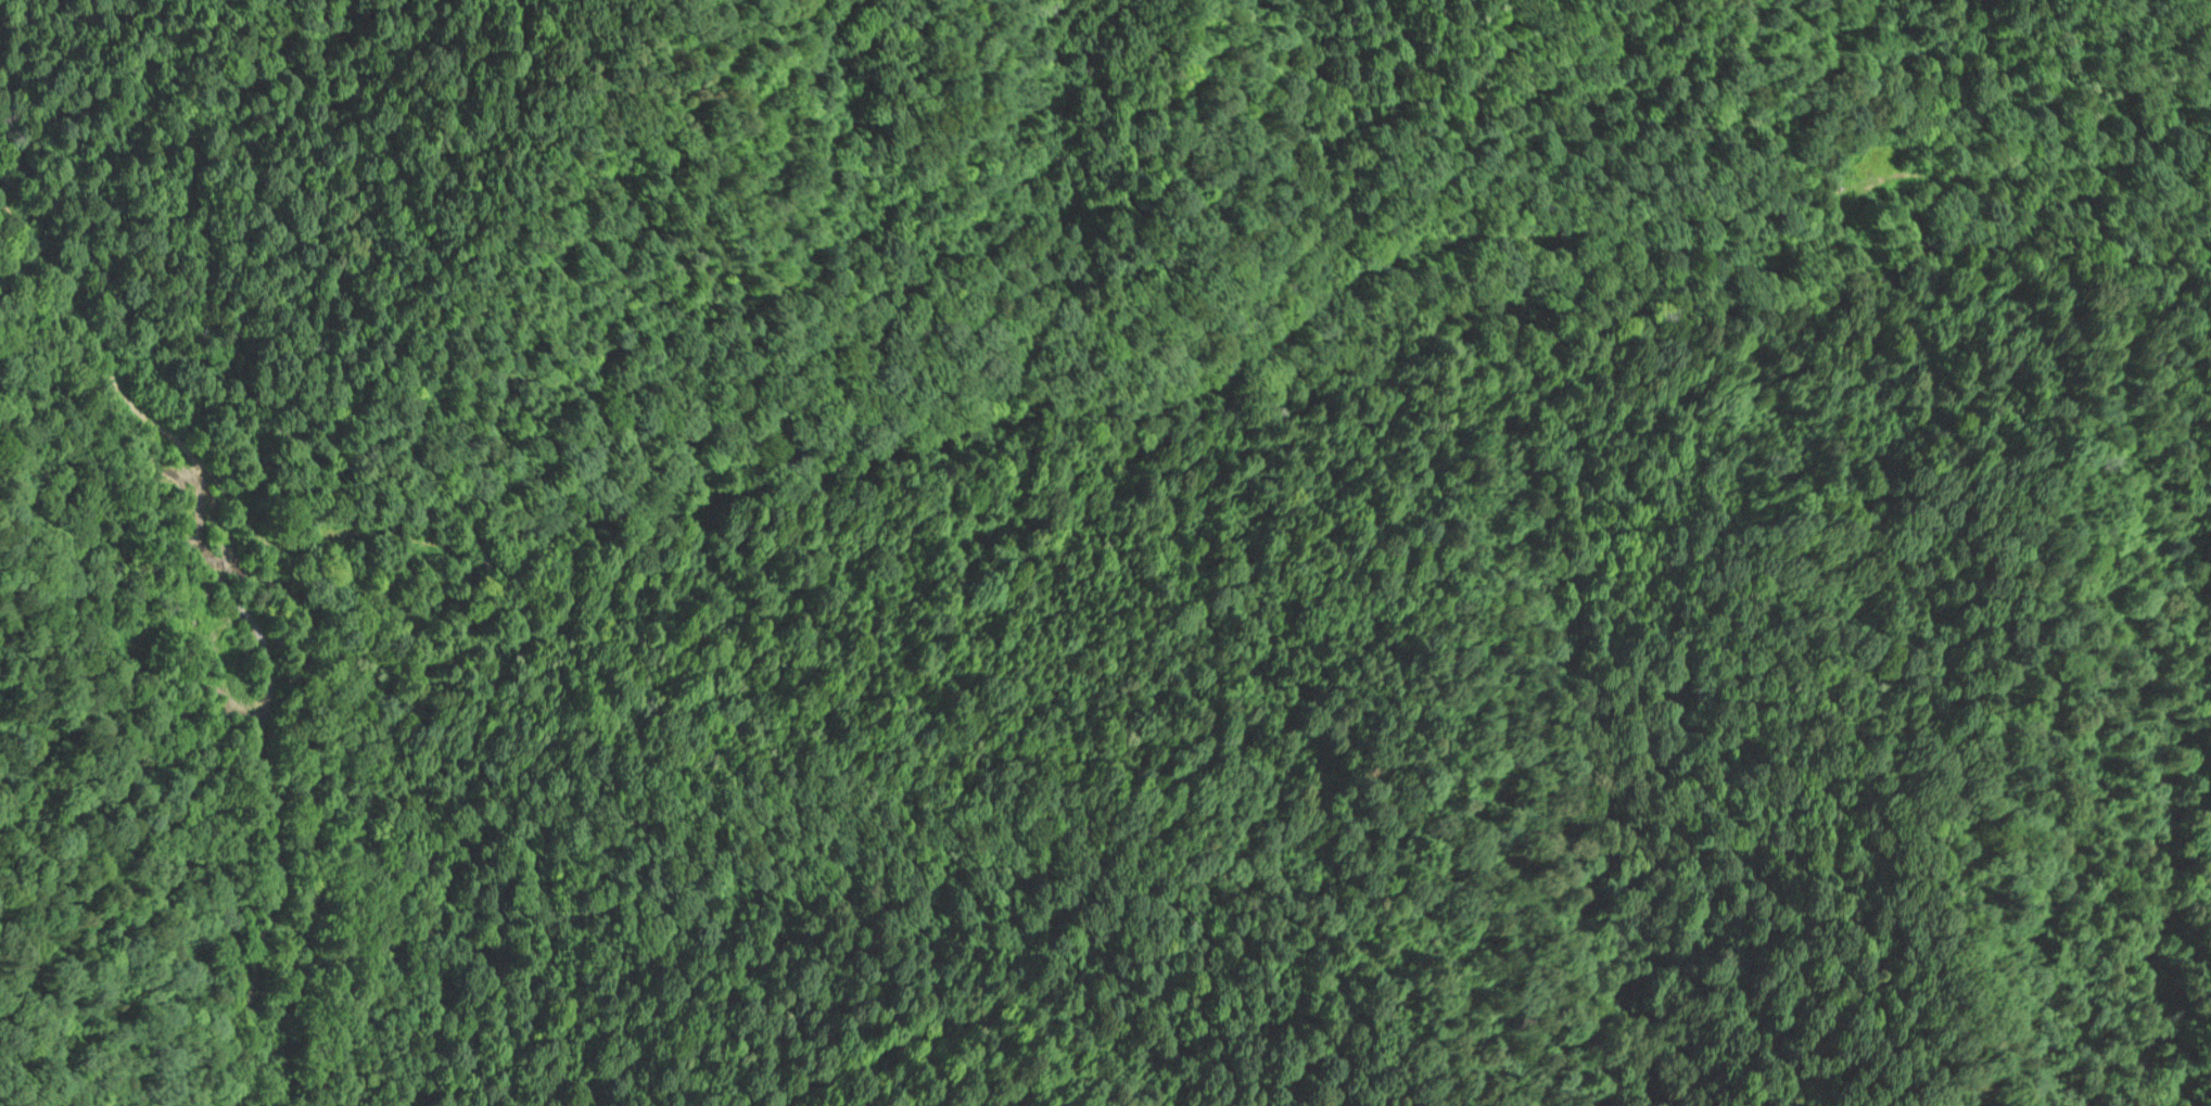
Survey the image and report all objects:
road: (77, 290)

